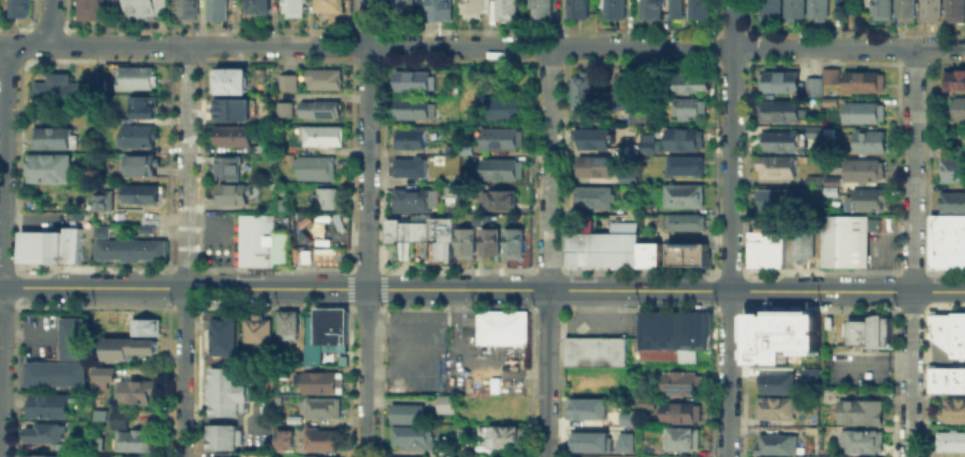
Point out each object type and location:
building: (258, 5)
building: (293, 5)
building: (327, 5)
building: (18, 7)
building: (928, 7)
building: (471, 8)
building: (539, 8)
building: (575, 8)
building: (697, 8)
building: (768, 8)
building: (815, 8)
building: (140, 9)
building: (187, 9)
building: (215, 9)
building: (401, 9)
building: (438, 9)
building: (504, 9)
building: (612, 9)
building: (648, 9)
building: (676, 9)
building: (792, 9)
building: (879, 9)
building: (91, 10)
building: (904, 10)
building: (953, 11)
road: (49, 22)
road: (731, 23)
road: (365, 45)
road: (847, 47)
building: (827, 73)
building: (134, 76)
building: (322, 77)
building: (229, 79)
building: (952, 79)
building: (777, 80)
building: (862, 80)
building: (286, 81)
building: (409, 81)
building: (688, 81)
building: (811, 85)
building: (579, 88)
building: (56, 90)
building: (621, 90)
building: (827, 101)
building: (142, 105)
building: (231, 106)
building: (687, 106)
building: (957, 106)
building: (410, 107)
building: (283, 108)
building: (318, 108)
building: (502, 109)
building: (776, 109)
building: (862, 111)
building: (631, 116)
building: (231, 133)
building: (136, 134)
building: (319, 134)
building: (592, 135)
building: (50, 137)
building: (406, 137)
building: (501, 138)
building: (682, 138)
building: (781, 139)
building: (868, 140)
building: (446, 146)
building: (645, 146)
building: (463, 147)
building: (137, 164)
building: (407, 165)
building: (592, 165)
building: (684, 165)
building: (225, 166)
building: (312, 166)
building: (774, 166)
building: (48, 167)
building: (501, 168)
building: (952, 168)
building: (861, 169)
building: (811, 180)
building: (828, 184)
building: (680, 192)
building: (138, 193)
building: (231, 193)
building: (449, 193)
building: (592, 196)
building: (325, 197)
building: (102, 198)
building: (410, 198)
building: (773, 198)
building: (864, 198)
building: (496, 199)
building: (951, 200)
building: (278, 203)
building: (646, 206)
building: (322, 216)
building: (304, 219)
building: (337, 220)
building: (684, 221)
building: (145, 227)
road: (366, 228)
building: (100, 229)
building: (422, 233)
building: (303, 236)
building: (27, 237)
building: (845, 237)
building: (618, 239)
building: (802, 239)
building: (260, 240)
building: (319, 240)
building: (337, 240)
building: (490, 240)
building: (466, 241)
building: (513, 241)
building: (942, 241)
building: (960, 241)
building: (766, 242)
building: (52, 243)
building: (73, 243)
building: (649, 245)
building: (103, 247)
building: (121, 248)
building: (138, 248)
building: (156, 248)
building: (572, 248)
building: (587, 248)
building: (602, 248)
building: (631, 248)
road: (2, 250)
road: (184, 250)
road: (548, 251)
building: (687, 252)
road: (729, 252)
road: (912, 252)
building: (35, 253)
building: (305, 255)
building: (648, 257)
road: (364, 289)
road: (847, 291)
parking lot: (600, 321)
building: (284, 323)
road: (411, 325)
building: (143, 326)
building: (501, 326)
building: (958, 326)
building: (940, 328)
building: (868, 329)
building: (257, 330)
building: (323, 332)
building: (222, 334)
building: (672, 334)
building: (70, 336)
building: (782, 337)
building: (125, 347)
building: (958, 349)
parking lot: (414, 350)
building: (593, 350)
road: (403, 355)
building: (341, 358)
parking lot: (477, 358)
road: (461, 370)
building: (52, 371)
building: (100, 372)
building: (808, 372)
building: (963, 377)
building: (939, 378)
building: (956, 378)
building: (315, 381)
building: (679, 382)
building: (774, 382)
building: (134, 389)
building: (223, 390)
road: (0, 397)
building: (444, 402)
building: (47, 405)
building: (586, 406)
building: (320, 407)
building: (773, 407)
building: (952, 409)
building: (678, 411)
building: (859, 411)
building: (406, 413)
building: (626, 416)
building: (116, 417)
building: (42, 433)
building: (503, 435)
building: (219, 436)
building: (411, 436)
building: (679, 437)
building: (321, 438)
building: (282, 439)
building: (131, 440)
building: (859, 440)
building: (587, 441)
building: (623, 441)
building: (950, 441)
building: (775, 442)
building: (41, 455)
building: (133, 455)
building: (224, 455)
building: (319, 456)
building: (404, 456)
building: (755, 456)

